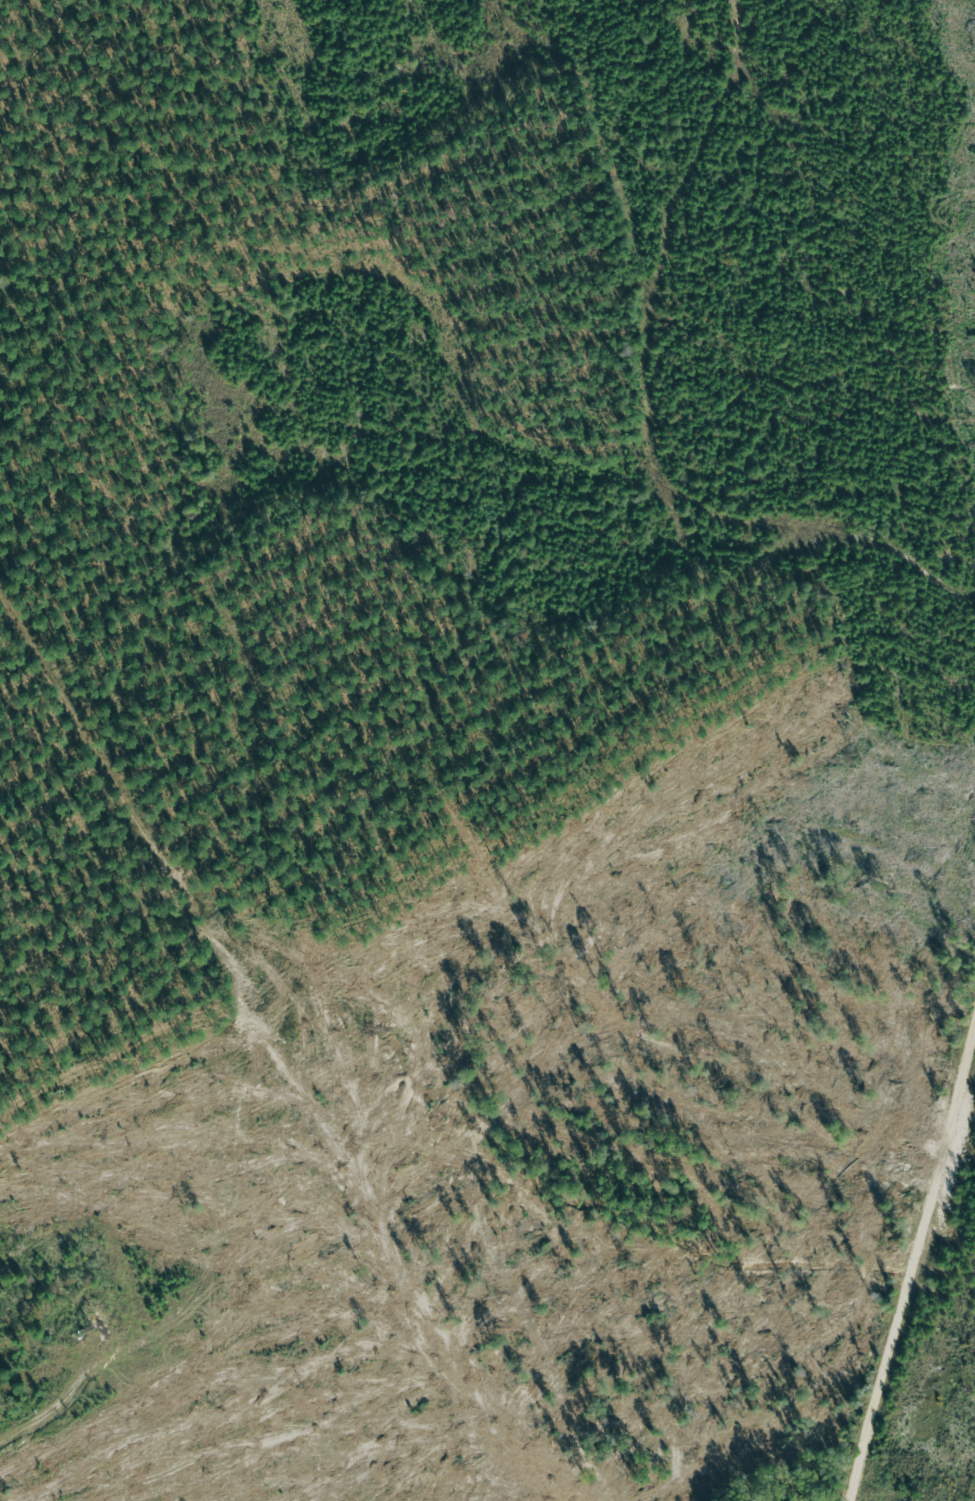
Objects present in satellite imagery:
road: (911, 1261)

